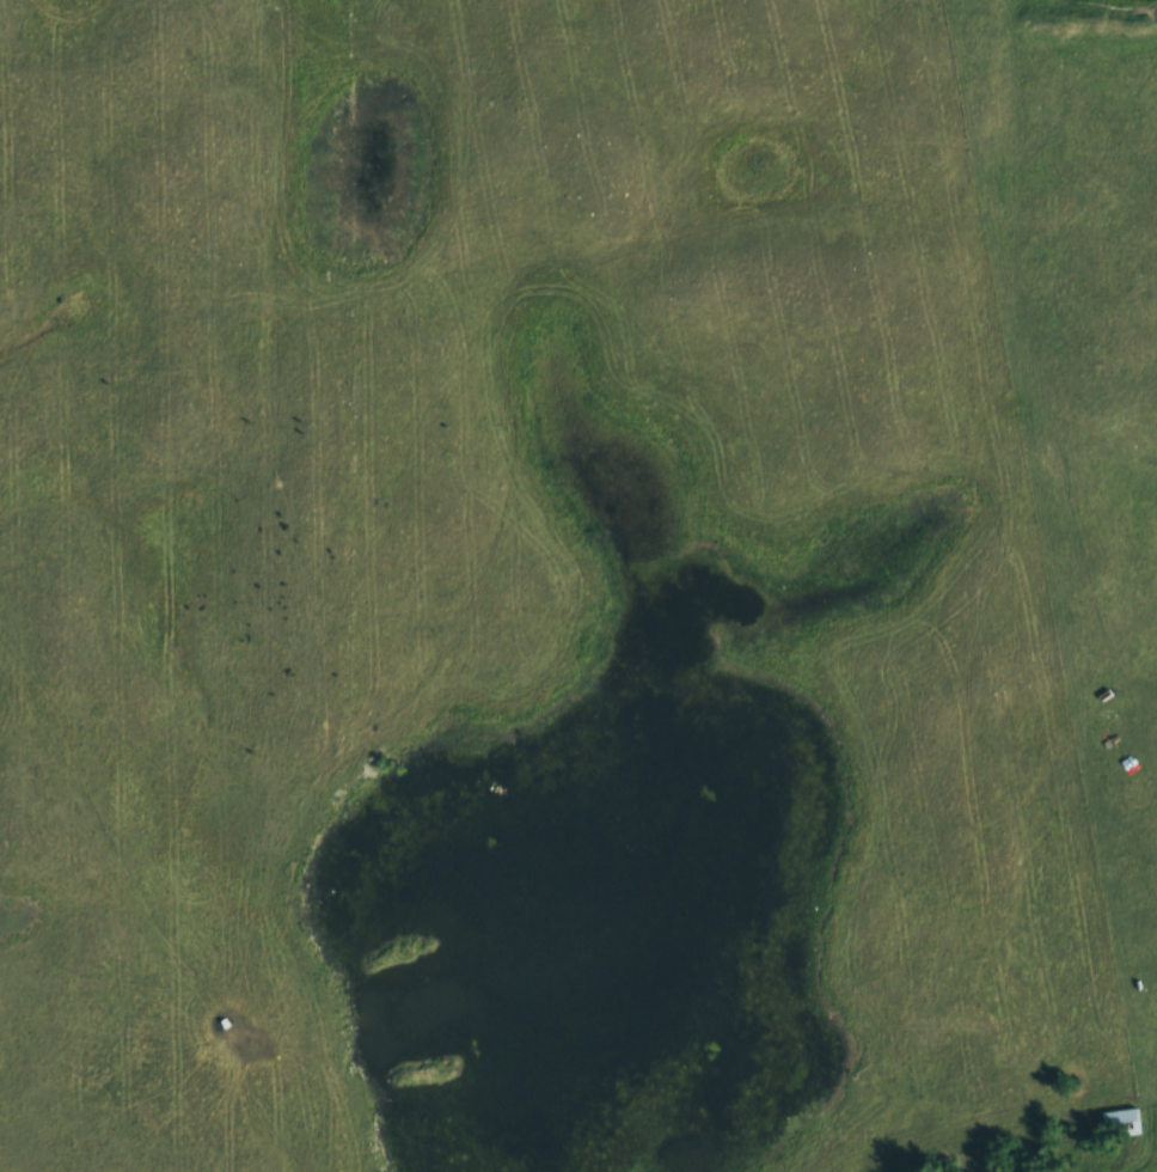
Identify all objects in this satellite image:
building: (1119, 1121)

